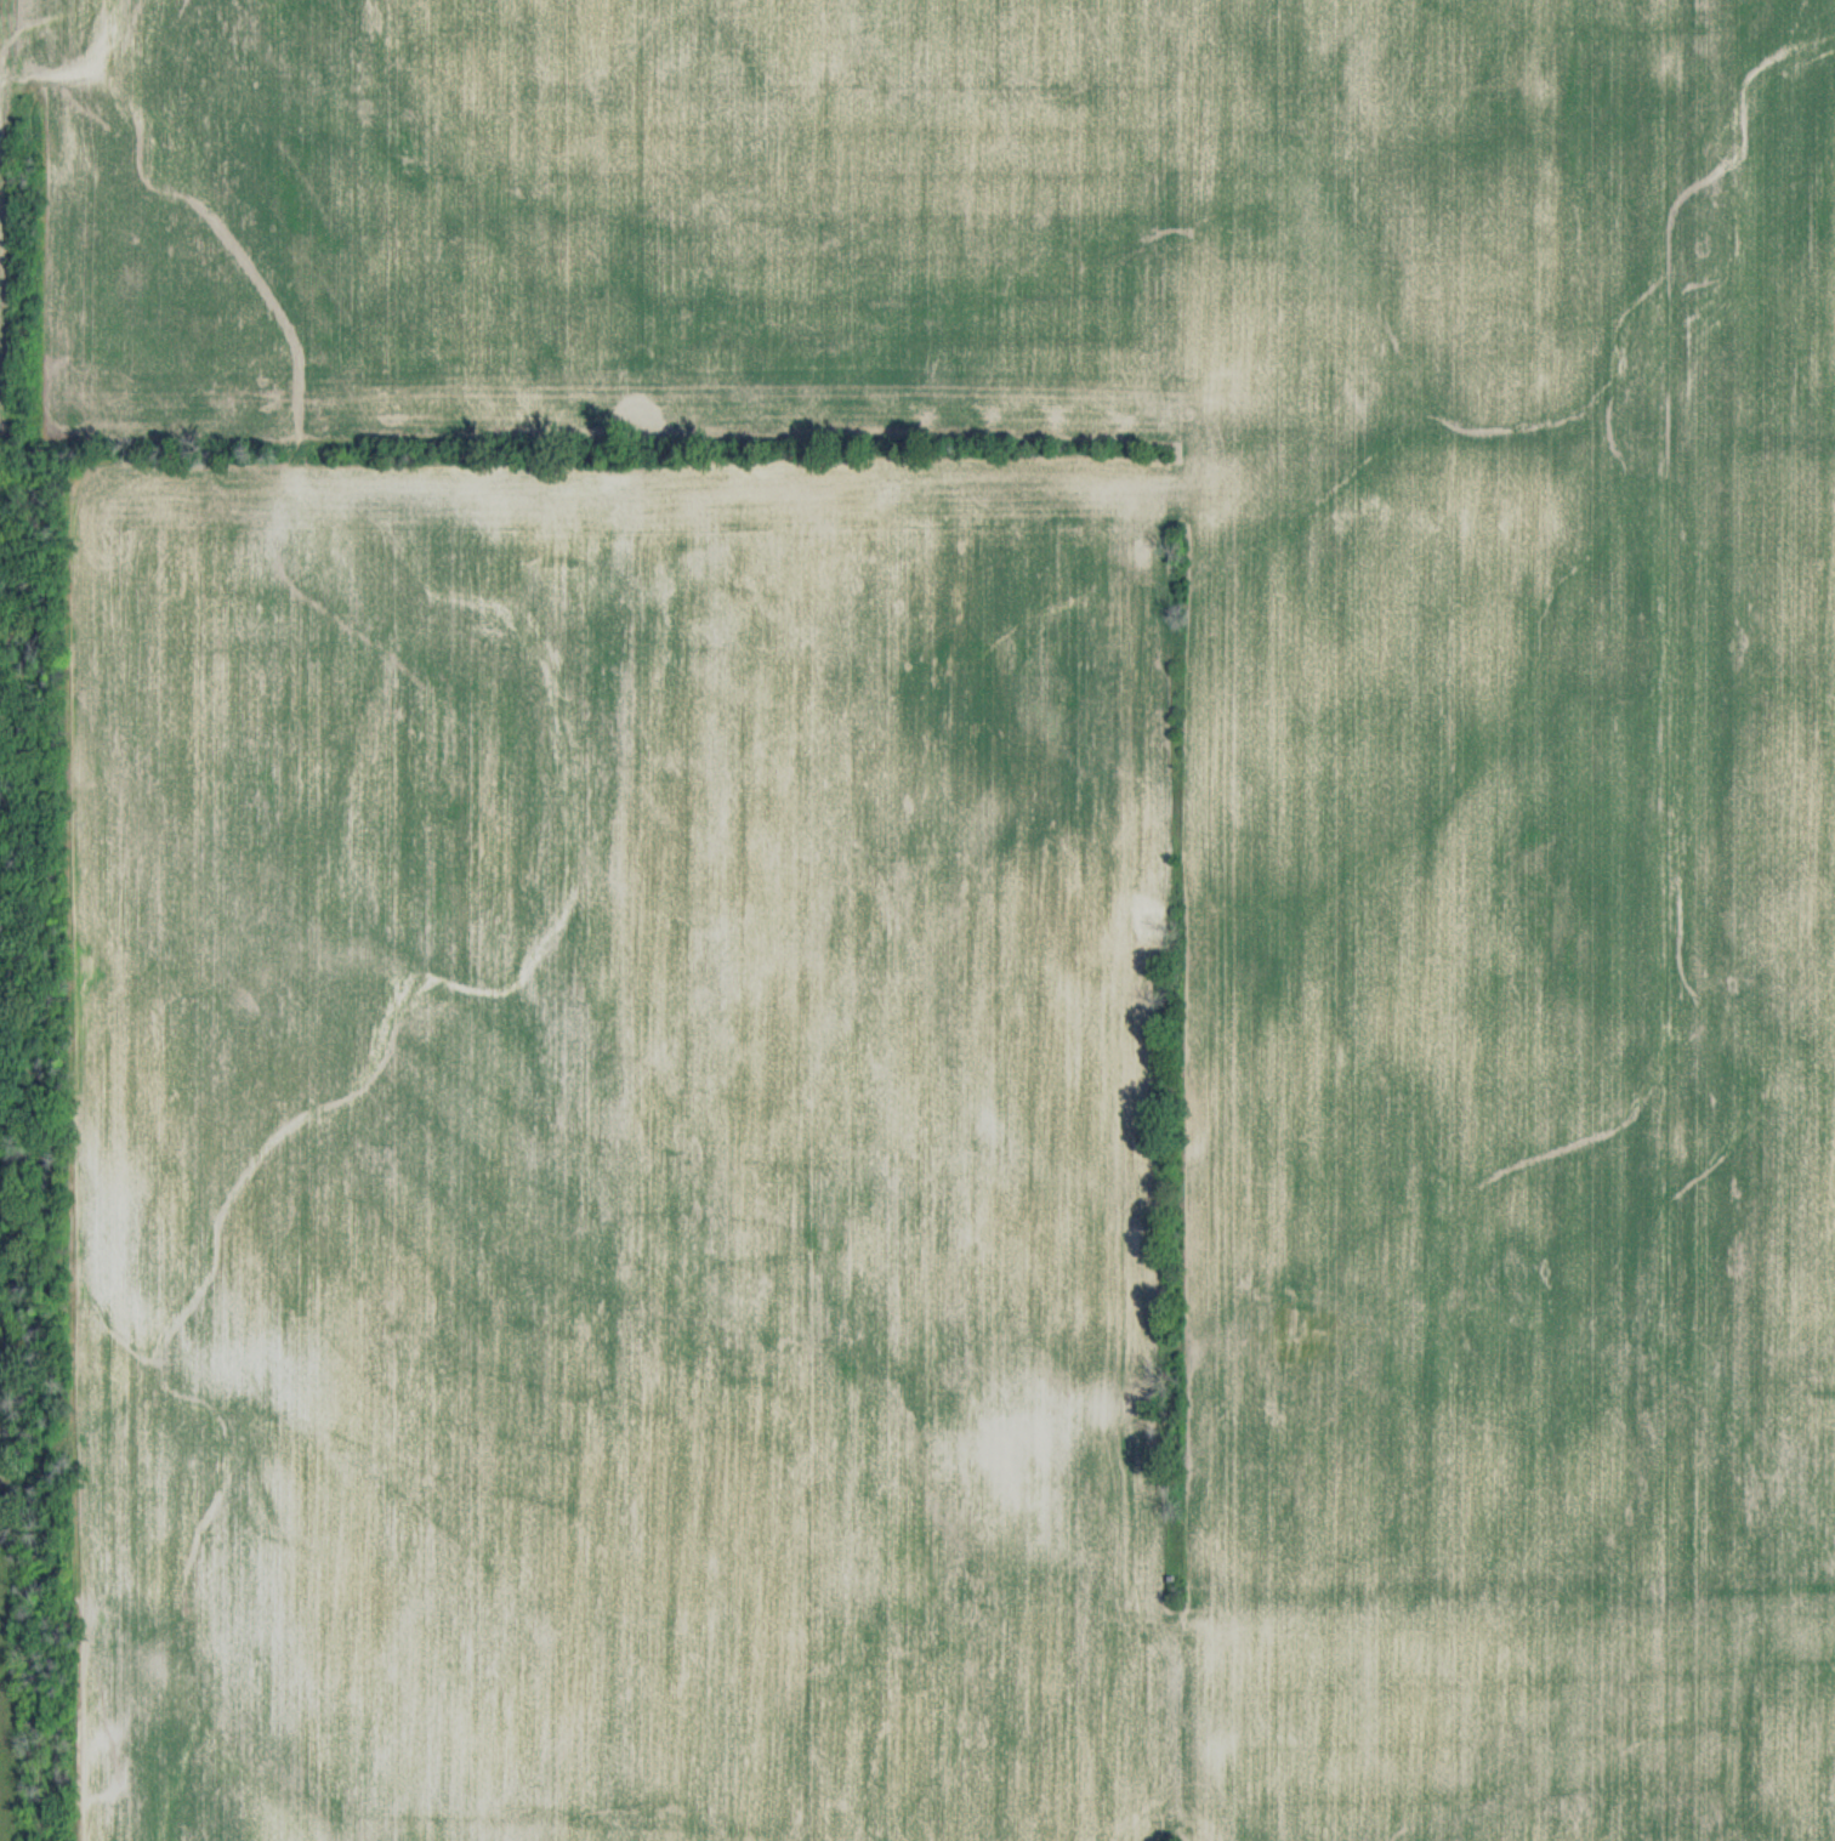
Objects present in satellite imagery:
crop: (933, 916)

